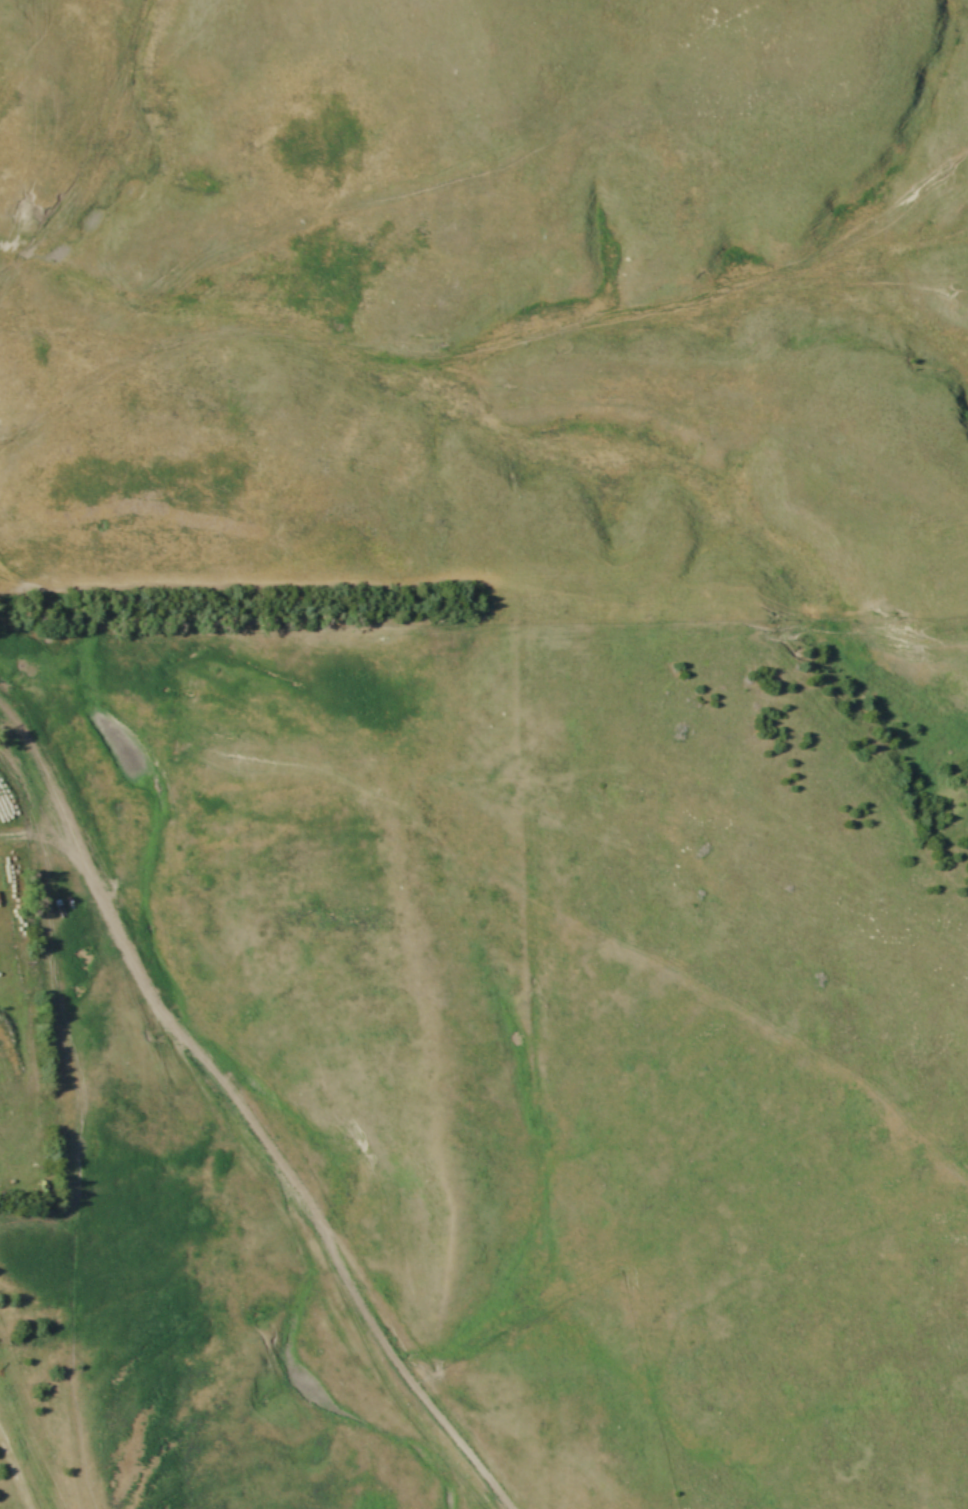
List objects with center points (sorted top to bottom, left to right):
road: (231, 1124)

